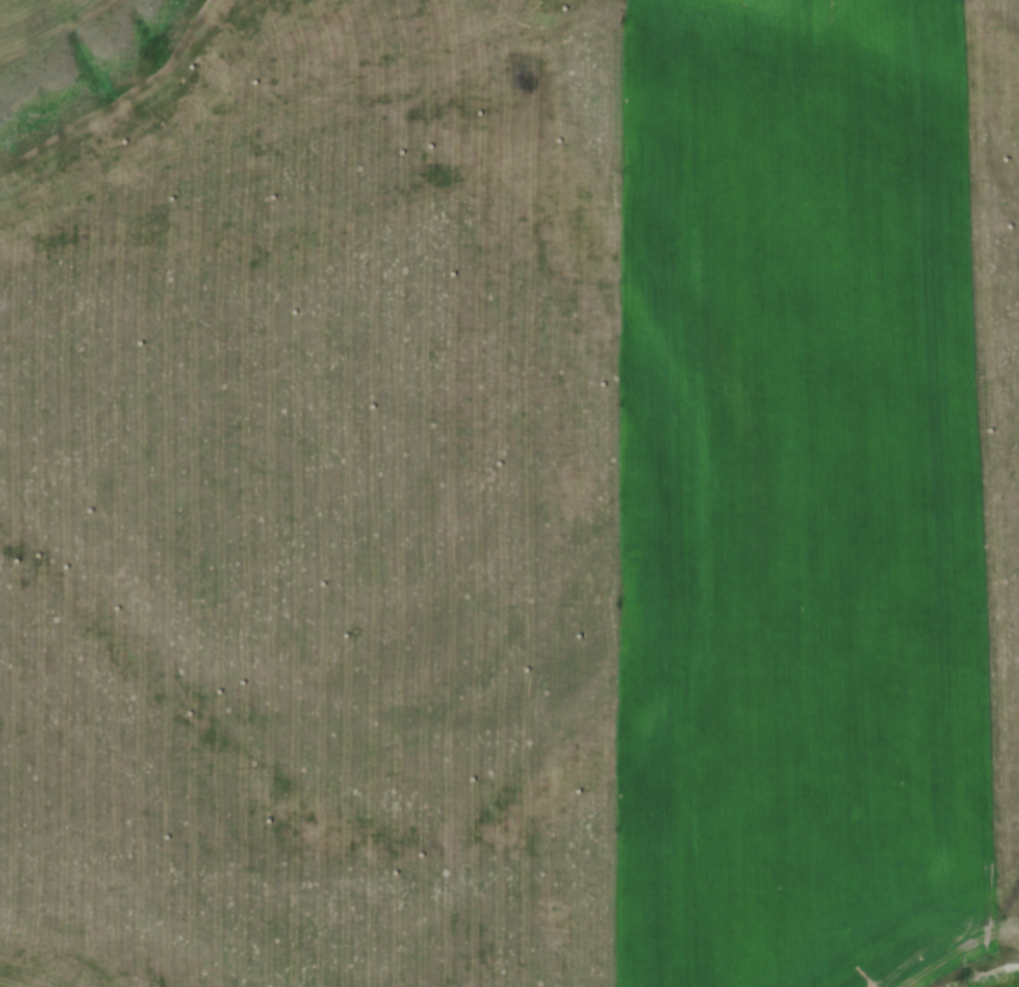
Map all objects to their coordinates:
road: (971, 970)

